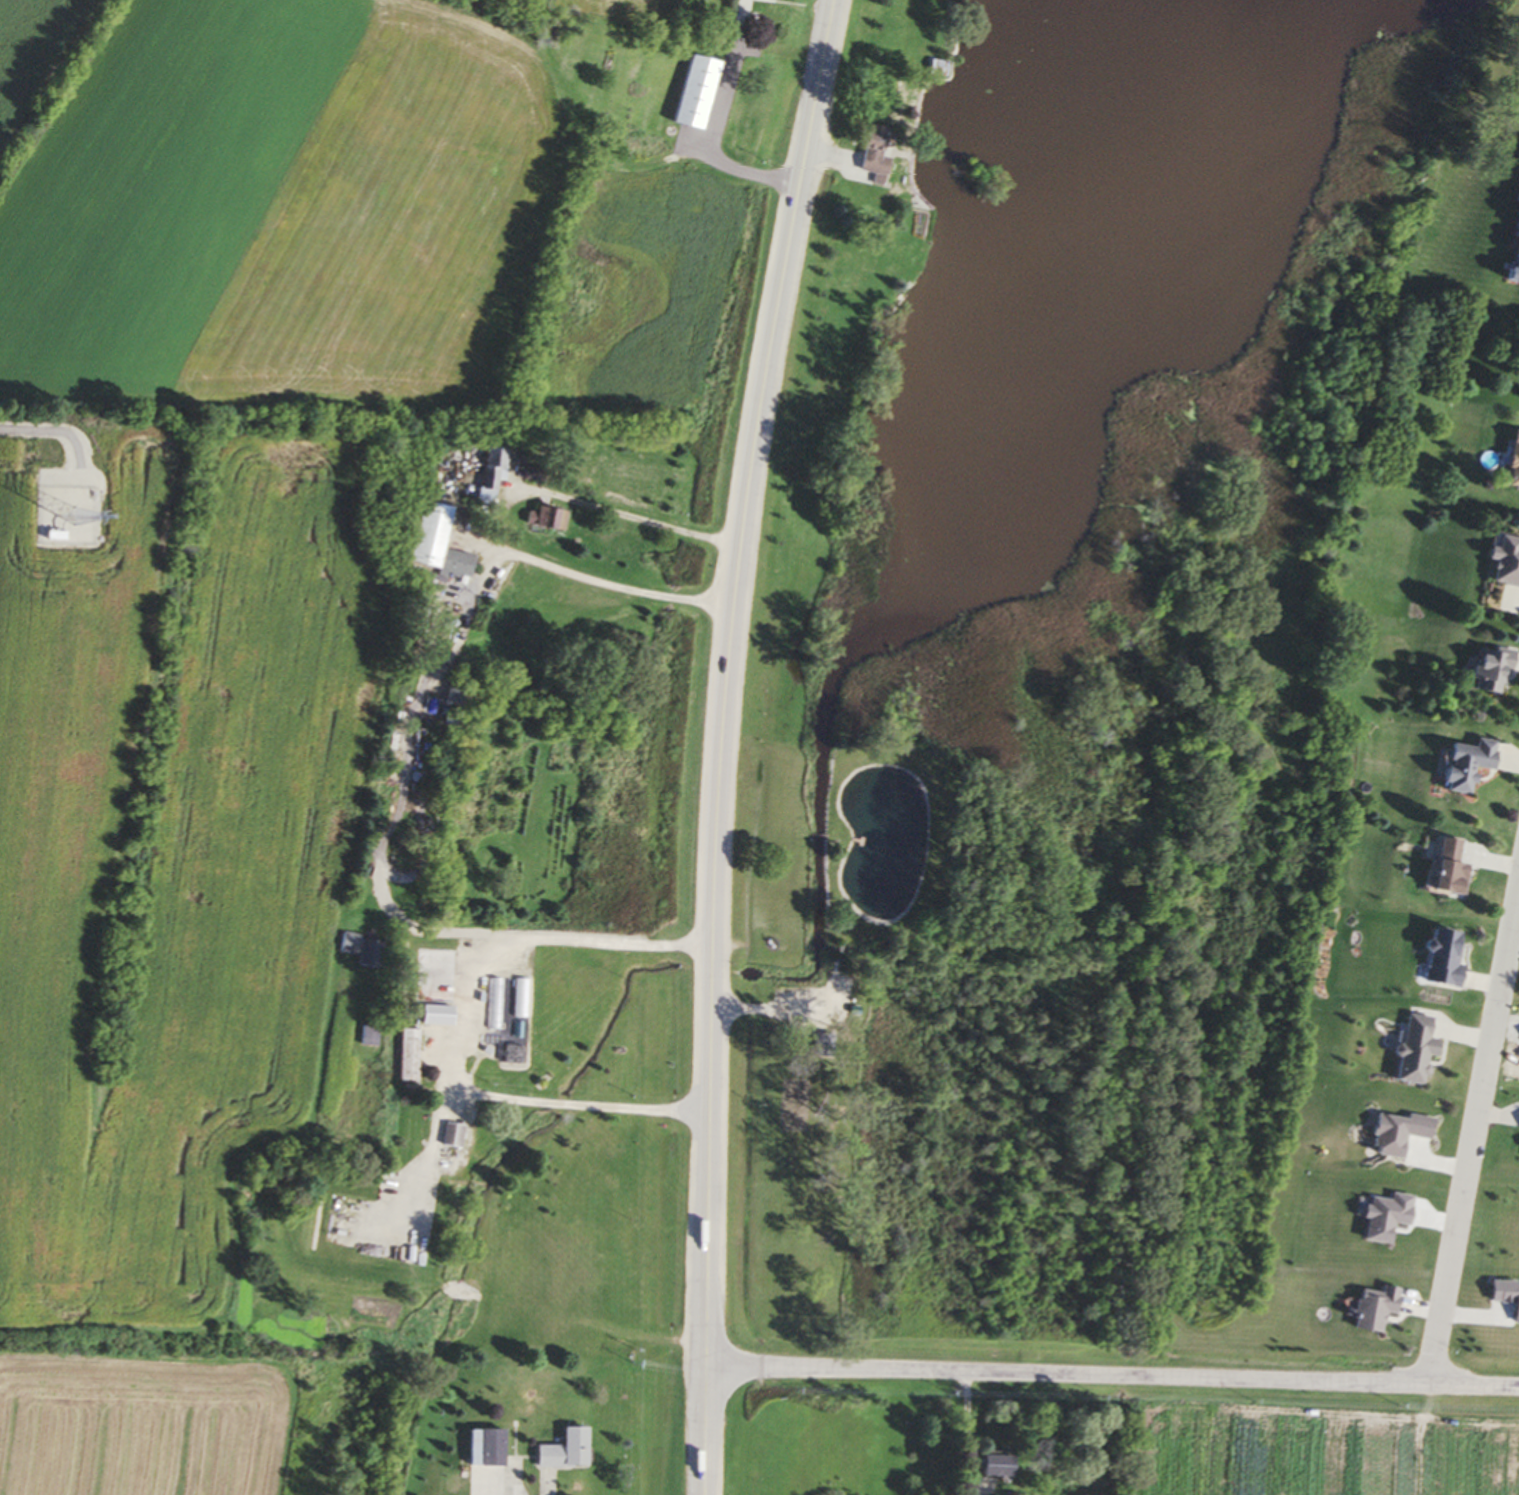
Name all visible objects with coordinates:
building: (944, 69)
building: (703, 93)
building: (882, 154)
building: (1512, 228)
road: (51, 431)
building: (1509, 461)
building: (537, 474)
road: (627, 513)
building: (553, 517)
building: (442, 542)
building: (1500, 562)
road: (604, 583)
building: (1484, 670)
road: (723, 743)
building: (1457, 766)
road: (401, 795)
building: (1439, 870)
building: (1434, 958)
park: (817, 982)
building: (495, 1005)
road: (774, 1011)
road: (461, 1029)
building: (1408, 1051)
building: (413, 1055)
building: (1389, 1133)
building: (456, 1135)
road: (1474, 1144)
building: (1516, 1147)
road: (1114, 1377)
building: (491, 1448)
building: (571, 1451)
building: (1005, 1466)

